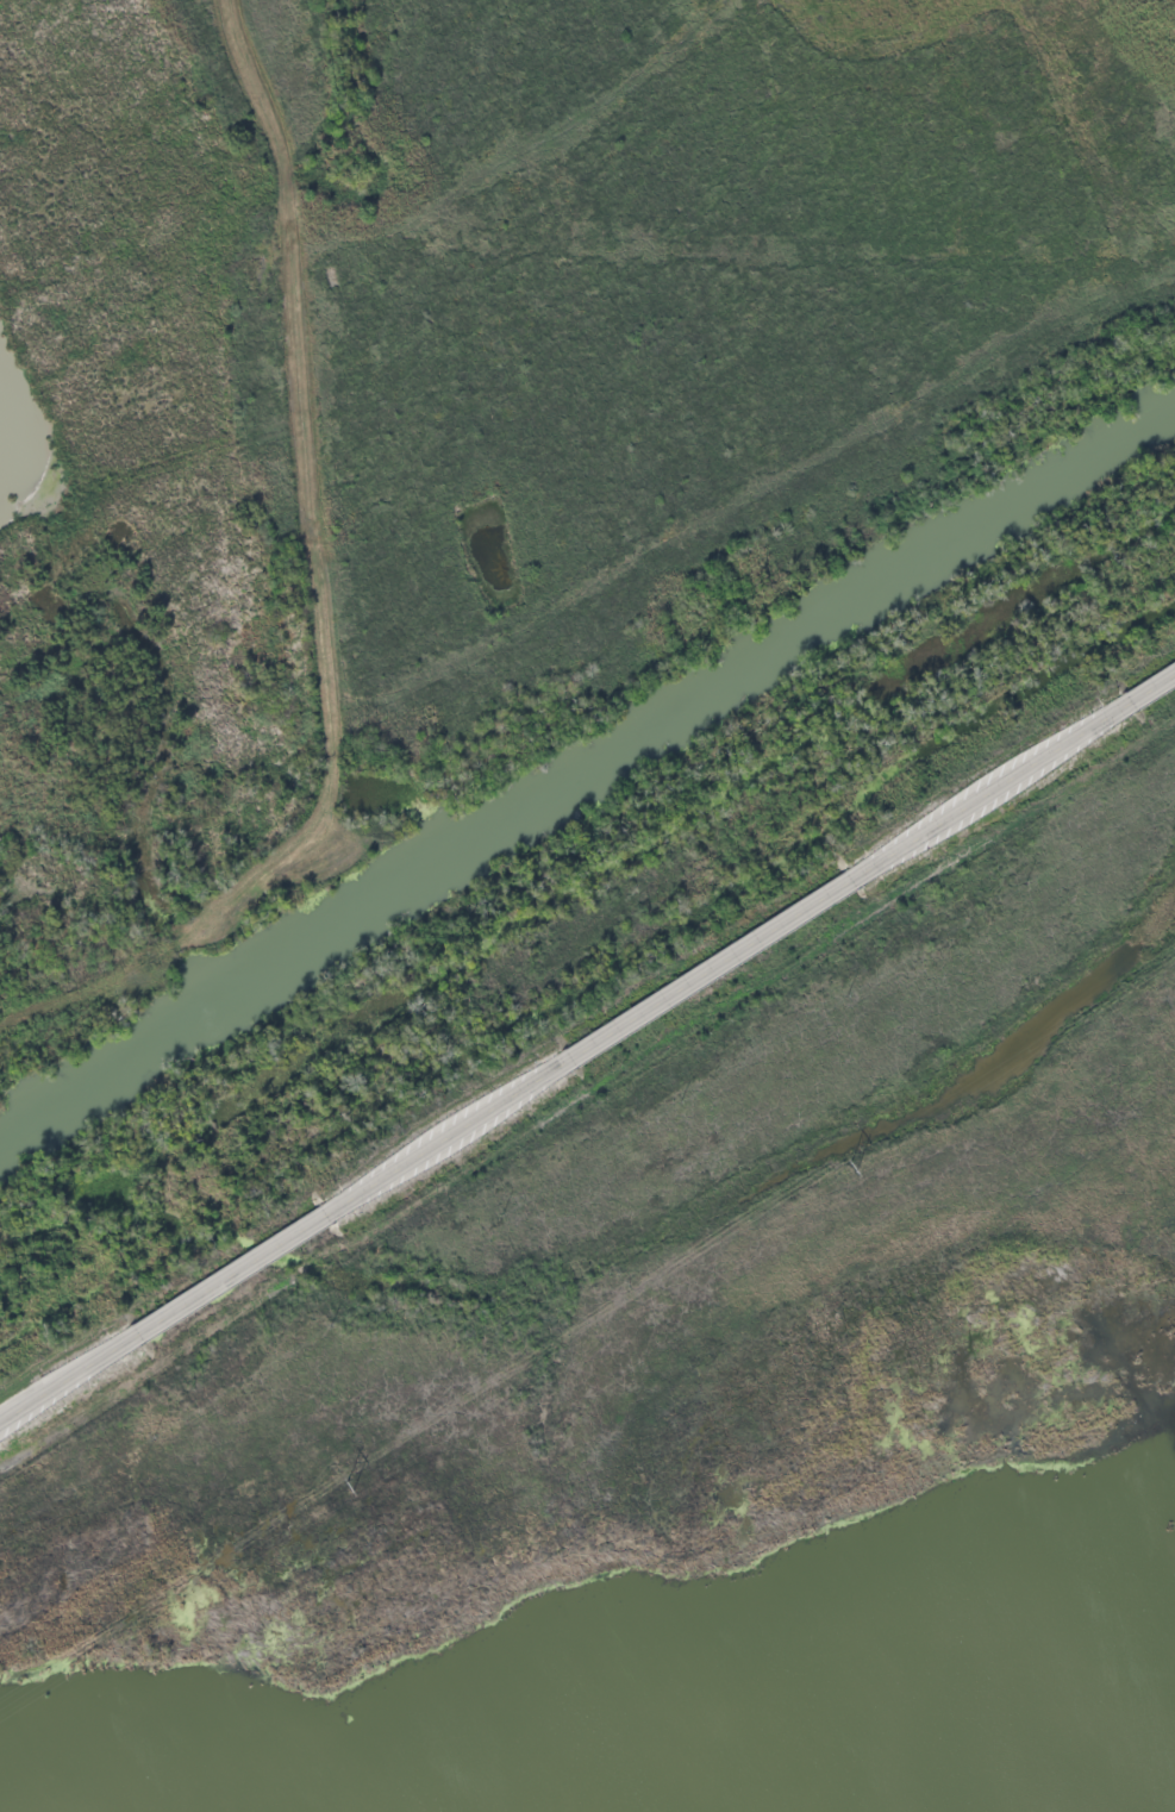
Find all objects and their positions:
road: (1150, 688)
road: (993, 789)
road: (713, 968)
road: (450, 1136)
power tower: (852, 1169)
road: (236, 1273)
road: (69, 1379)
power tower: (349, 1488)

